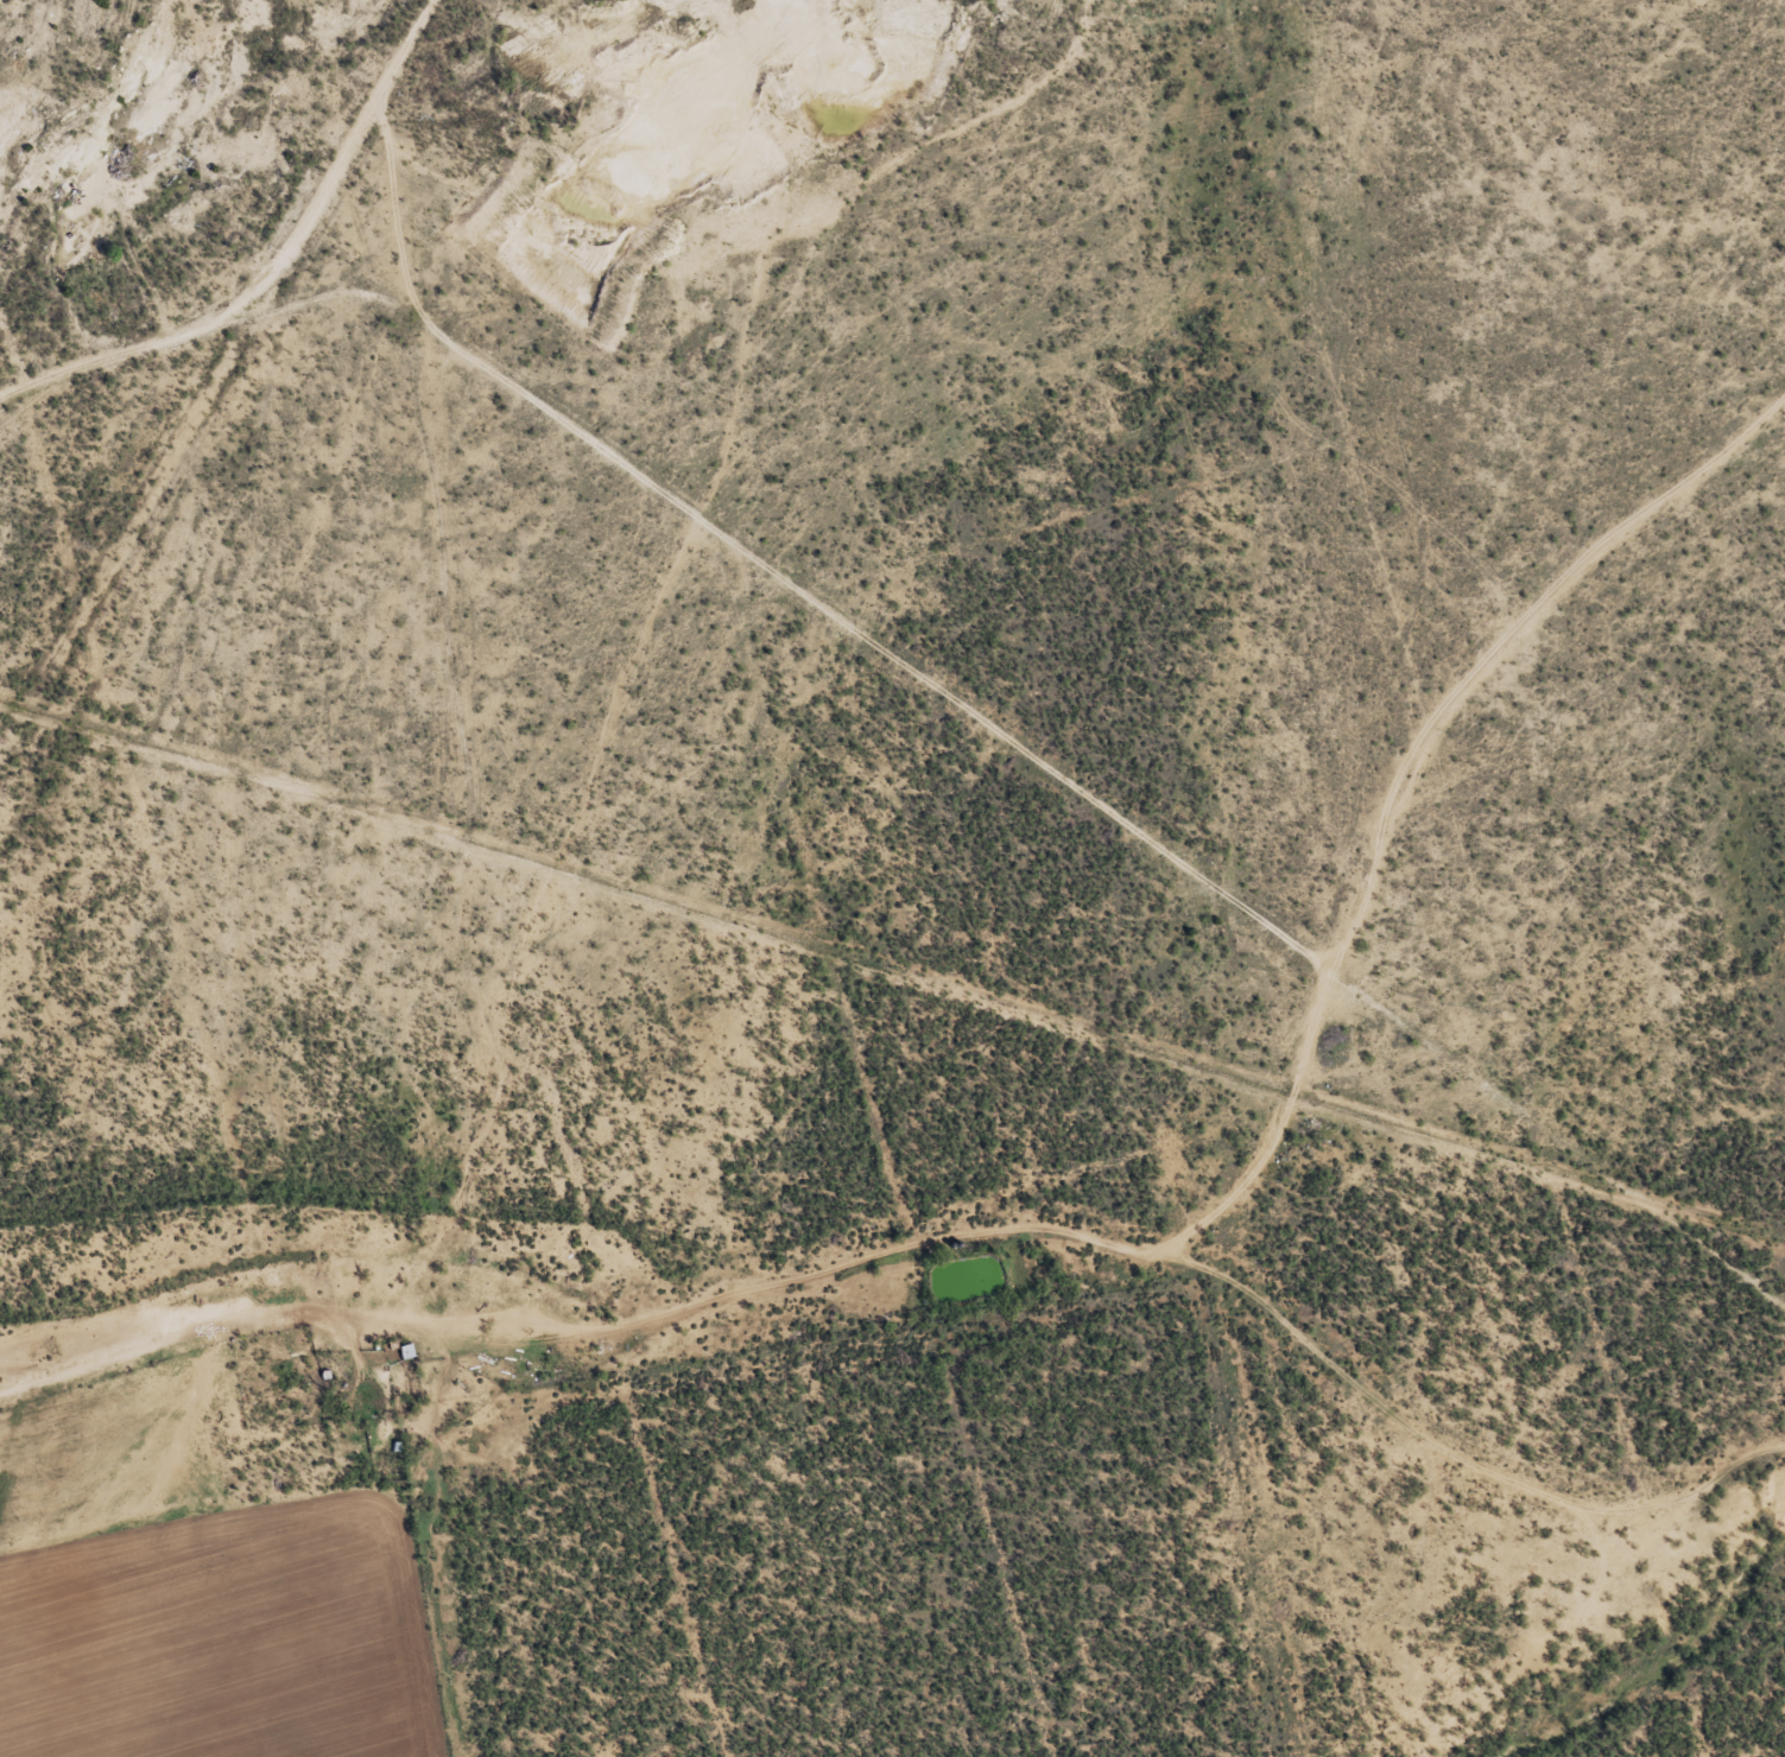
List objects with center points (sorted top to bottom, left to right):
road: (903, 1307)

